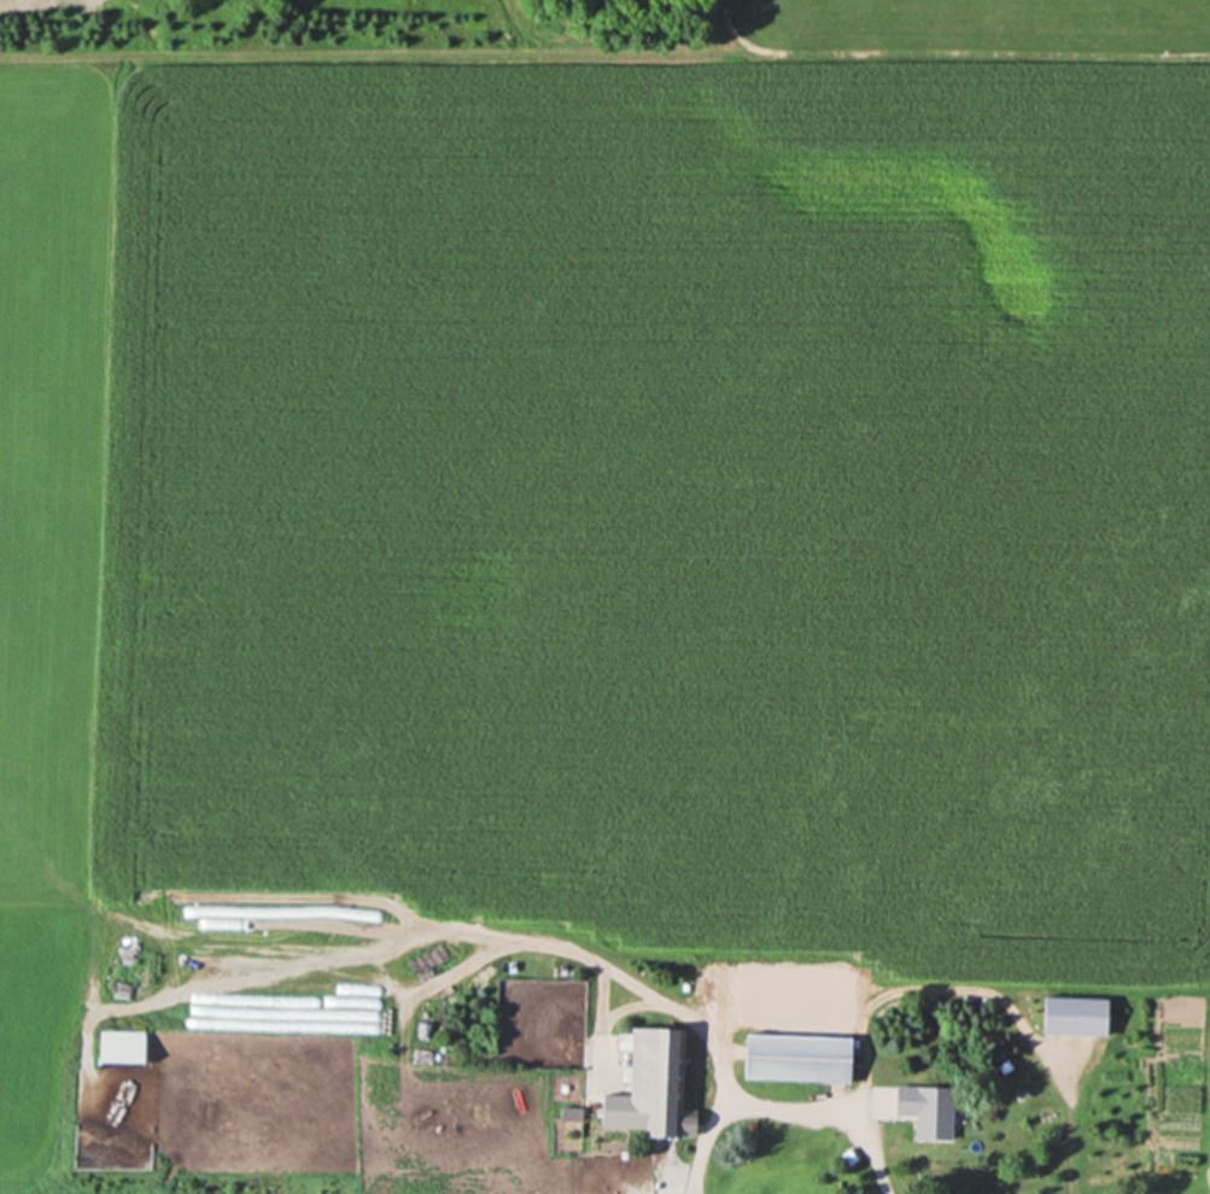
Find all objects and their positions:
building: (1071, 1016)
building: (117, 1047)
building: (794, 1058)
building: (655, 1081)
building: (924, 1110)
road: (779, 1114)

